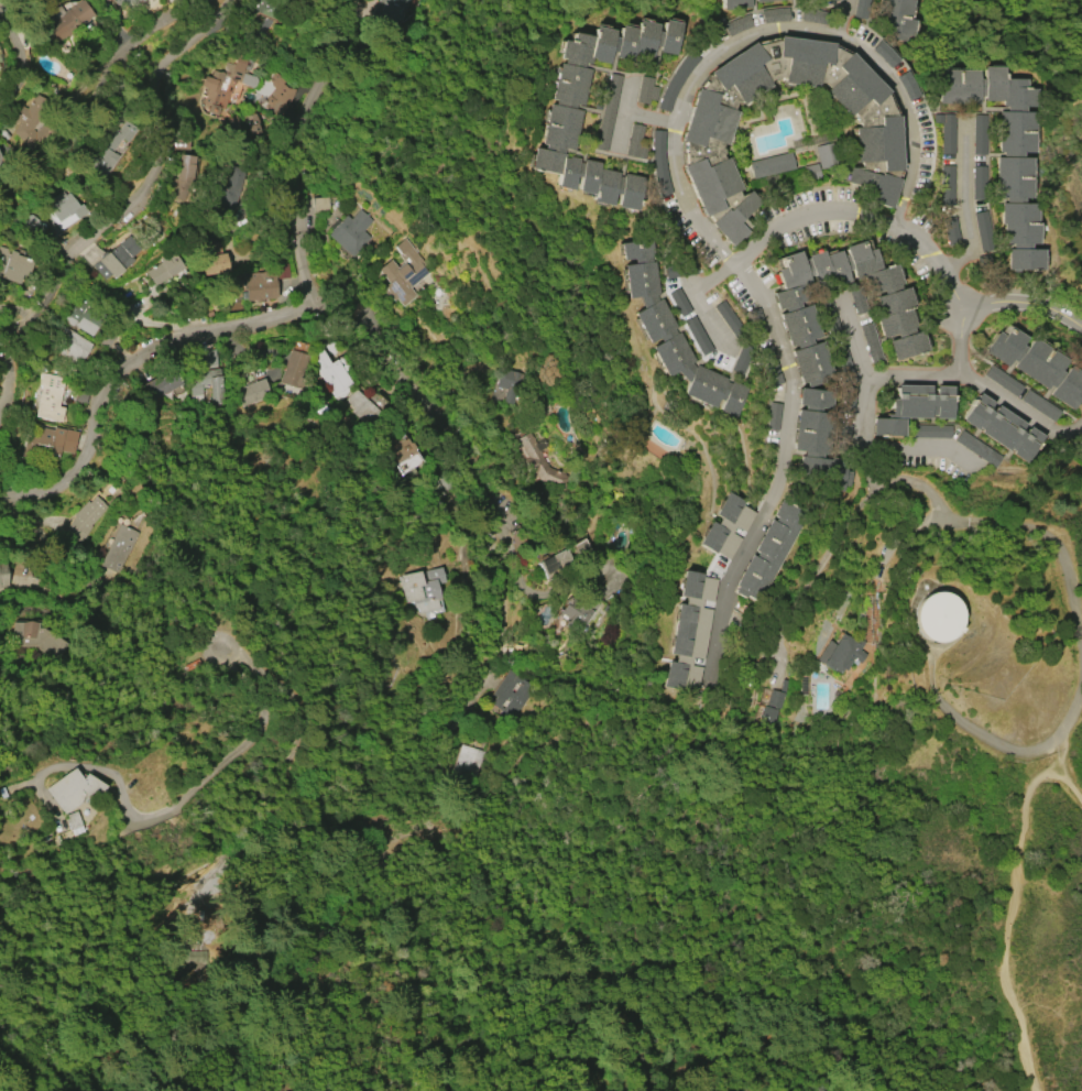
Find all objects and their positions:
building: (761, 0)
building: (101, 1)
building: (735, 3)
building: (128, 4)
building: (861, 10)
building: (265, 11)
building: (392, 15)
building: (775, 15)
building: (897, 18)
building: (65, 22)
road: (767, 30)
road: (129, 46)
building: (886, 54)
road: (31, 56)
building: (675, 81)
building: (228, 83)
building: (647, 91)
road: (63, 92)
building: (278, 95)
building: (608, 112)
road: (624, 114)
road: (652, 119)
building: (29, 126)
building: (560, 127)
building: (946, 132)
building: (635, 142)
building: (875, 142)
building: (979, 148)
building: (1004, 152)
building: (103, 154)
building: (4, 160)
building: (658, 163)
building: (770, 165)
building: (179, 177)
building: (977, 183)
building: (947, 185)
building: (225, 189)
building: (321, 205)
building: (66, 209)
road: (127, 209)
road: (959, 210)
building: (982, 231)
building: (350, 232)
building: (116, 259)
building: (210, 260)
building: (12, 264)
building: (165, 269)
building: (402, 274)
road: (743, 276)
building: (261, 285)
road: (312, 291)
road: (696, 291)
building: (894, 314)
building: (79, 319)
building: (669, 332)
road: (854, 340)
building: (70, 346)
road: (160, 346)
building: (1036, 366)
building: (292, 369)
building: (330, 373)
building: (161, 385)
road: (987, 390)
building: (254, 392)
building: (1020, 393)
building: (52, 397)
building: (360, 404)
building: (912, 407)
road: (1, 419)
road: (860, 422)
road: (1, 425)
building: (1001, 428)
building: (55, 440)
building: (816, 445)
building: (1081, 449)
parking lot: (925, 452)
building: (1081, 457)
building: (404, 458)
building: (540, 462)
road: (868, 468)
road: (30, 494)
road: (930, 494)
building: (84, 520)
building: (724, 526)
building: (120, 543)
road: (1057, 545)
building: (768, 553)
building: (565, 559)
road: (816, 572)
building: (3, 576)
building: (423, 588)
building: (572, 614)
building: (939, 617)
water tower: (925, 620)
building: (688, 632)
building: (34, 639)
building: (839, 652)
building: (512, 692)
road: (259, 695)
building: (770, 702)
road: (1070, 717)
road: (459, 721)
road: (972, 732)
building: (470, 762)
road: (1064, 784)
building: (72, 789)
road: (274, 853)
road: (1009, 917)

